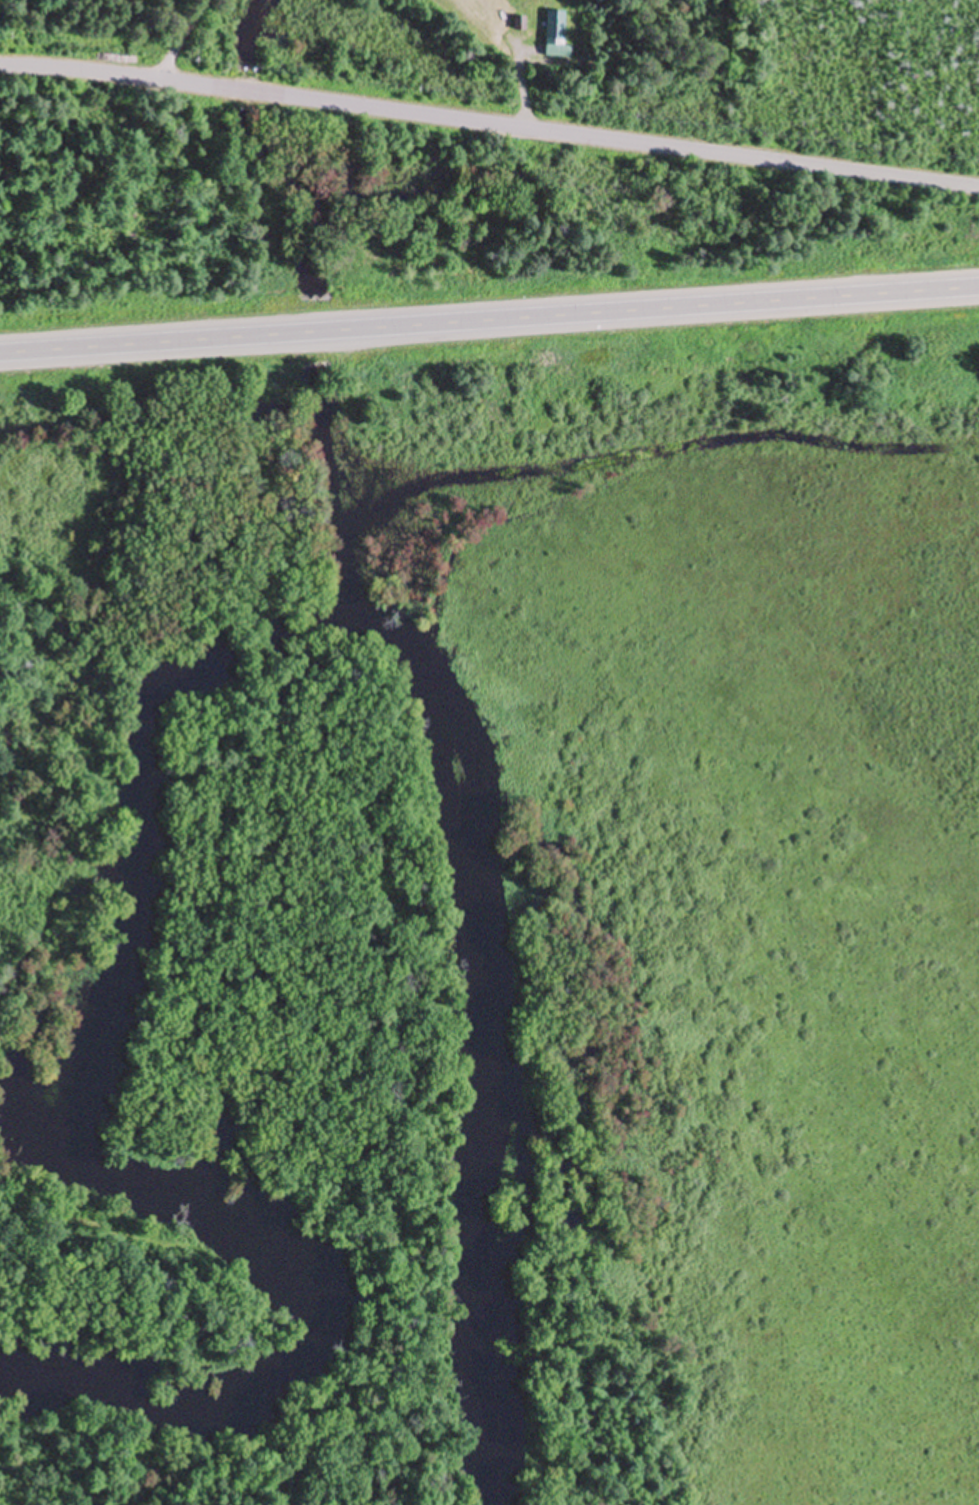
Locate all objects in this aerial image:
building: (519, 24)
building: (556, 29)
road: (489, 125)
road: (489, 321)
river: (463, 1031)
river: (80, 1136)

